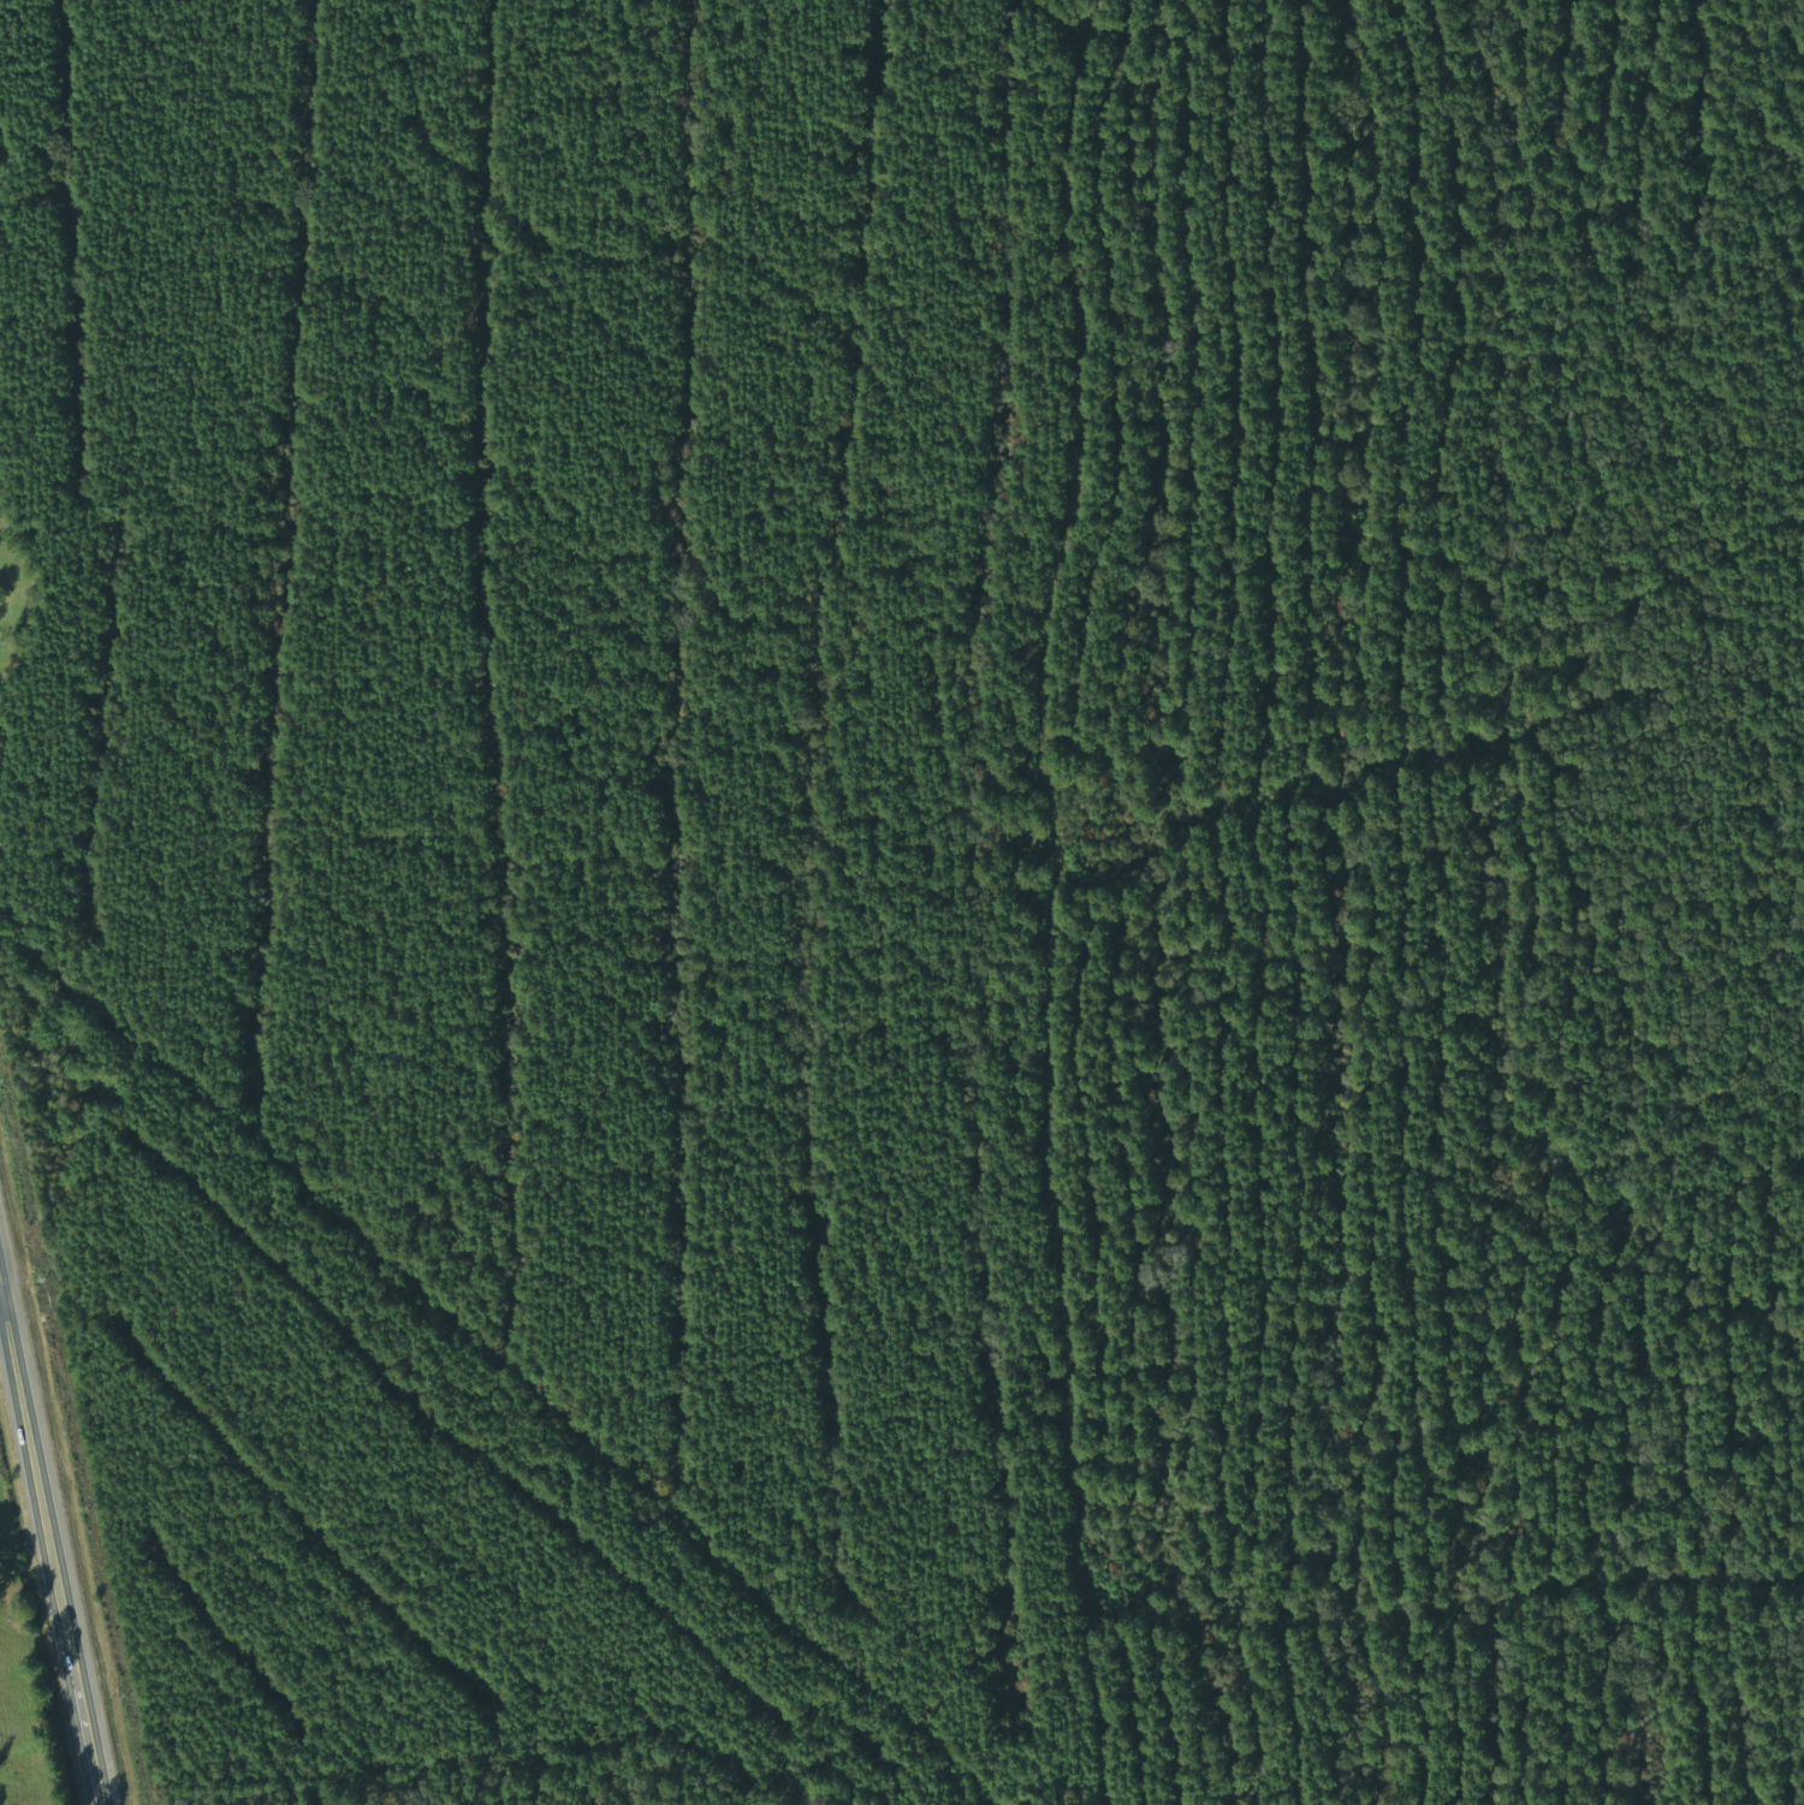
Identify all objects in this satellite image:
road: (4, 1317)
road: (55, 1539)

